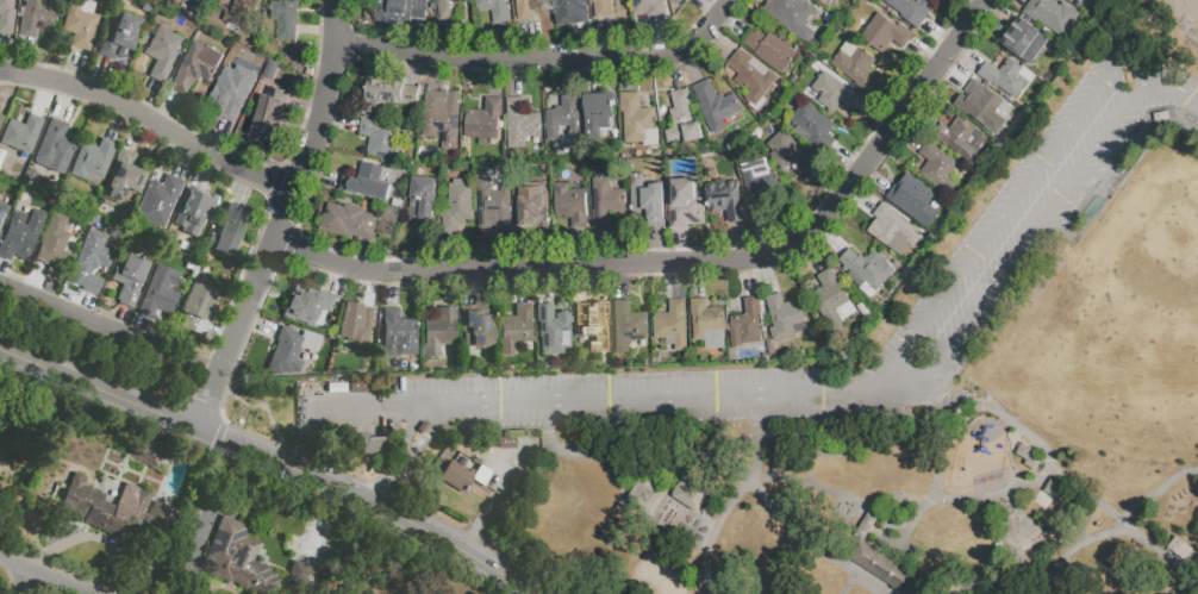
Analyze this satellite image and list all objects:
road: (1024, 0)
building: (196, 2)
building: (573, 6)
road: (709, 6)
building: (447, 7)
building: (601, 7)
building: (648, 7)
building: (1186, 7)
building: (525, 8)
building: (910, 8)
building: (495, 10)
road: (1000, 10)
building: (400, 11)
building: (239, 12)
building: (6, 14)
building: (1050, 14)
building: (794, 15)
building: (35, 17)
building: (286, 18)
road: (732, 21)
building: (80, 23)
road: (318, 32)
building: (884, 32)
building: (120, 38)
road: (942, 38)
road: (661, 39)
road: (423, 40)
road: (585, 40)
building: (1023, 40)
road: (450, 42)
road: (607, 42)
road: (720, 42)
road: (531, 44)
road: (350, 45)
road: (506, 46)
road: (523, 46)
building: (769, 48)
building: (160, 49)
road: (926, 52)
road: (967, 55)
road: (4, 56)
road: (25, 60)
road: (545, 61)
road: (693, 63)
building: (195, 65)
building: (855, 65)
road: (413, 67)
road: (676, 69)
road: (76, 70)
road: (438, 73)
road: (631, 73)
road: (953, 73)
road: (595, 74)
road: (570, 75)
building: (750, 75)
road: (497, 76)
road: (517, 76)
building: (1003, 77)
road: (100, 79)
road: (1177, 90)
building: (835, 92)
building: (229, 93)
building: (388, 93)
road: (892, 99)
road: (44, 100)
road: (149, 101)
road: (68, 105)
road: (310, 105)
building: (715, 105)
building: (981, 105)
road: (169, 112)
building: (268, 112)
building: (0, 113)
building: (597, 113)
building: (442, 115)
building: (634, 117)
building: (0, 118)
building: (562, 118)
building: (681, 118)
road: (878, 118)
building: (483, 119)
building: (519, 119)
road: (152, 120)
road: (118, 123)
road: (338, 123)
building: (813, 125)
road: (138, 133)
building: (21, 135)
road: (297, 135)
building: (382, 135)
road: (909, 135)
building: (959, 138)
road: (220, 140)
building: (54, 148)
building: (788, 152)
road: (848, 158)
building: (93, 161)
road: (186, 161)
road: (297, 167)
building: (937, 167)
building: (485, 168)
road: (208, 171)
building: (121, 176)
road: (320, 176)
road: (875, 179)
building: (369, 181)
road: (829, 183)
building: (761, 187)
road: (244, 188)
road: (266, 196)
road: (862, 196)
building: (912, 198)
building: (728, 199)
building: (158, 200)
building: (650, 200)
building: (607, 202)
building: (400, 204)
building: (493, 204)
building: (425, 205)
building: (574, 205)
building: (687, 205)
building: (461, 207)
road: (1010, 207)
building: (534, 210)
building: (194, 211)
building: (2, 213)
road: (285, 218)
building: (348, 219)
road: (258, 227)
building: (227, 229)
building: (892, 229)
building: (20, 235)
road: (772, 238)
road: (829, 239)
road: (742, 242)
road: (661, 245)
building: (54, 246)
road: (288, 246)
road: (681, 246)
road: (582, 248)
road: (604, 248)
road: (505, 250)
road: (1023, 250)
road: (528, 251)
road: (428, 252)
road: (451, 252)
road: (813, 255)
road: (366, 256)
road: (386, 257)
road: (692, 263)
building: (88, 264)
road: (2, 267)
building: (866, 269)
road: (768, 273)
road: (614, 275)
road: (337, 279)
road: (747, 279)
building: (129, 280)
road: (600, 281)
road: (676, 281)
road: (698, 281)
road: (623, 283)
road: (472, 285)
road: (524, 285)
road: (547, 285)
road: (372, 288)
road: (449, 288)
road: (393, 289)
road: (51, 292)
building: (158, 293)
parking lot: (961, 296)
road: (269, 299)
road: (71, 301)
building: (196, 302)
building: (832, 302)
building: (306, 304)
building: (782, 315)
road: (123, 320)
building: (706, 323)
road: (257, 324)
building: (744, 324)
building: (670, 325)
building: (475, 326)
building: (626, 326)
building: (593, 327)
park: (1116, 327)
road: (111, 329)
building: (514, 329)
road: (142, 330)
building: (553, 330)
building: (358, 332)
building: (438, 332)
building: (399, 334)
building: (292, 350)
road: (204, 365)
road: (191, 392)
road: (662, 398)
park: (898, 399)
road: (379, 408)
road: (904, 408)
road: (198, 414)
road: (1024, 430)
road: (217, 438)
building: (368, 444)
building: (146, 451)
road: (413, 452)
building: (1, 456)
road: (279, 459)
road: (500, 464)
building: (467, 477)
road: (937, 488)
road: (399, 496)
road: (499, 498)
road: (999, 498)
building: (114, 508)
road: (872, 508)
road: (726, 513)
building: (868, 527)
road: (1035, 529)
road: (92, 537)
building: (318, 538)
road: (811, 545)
building: (1183, 550)
building: (238, 557)
building: (882, 570)
building: (299, 574)
road: (43, 576)
road: (1041, 577)
road: (29, 583)
road: (851, 584)

